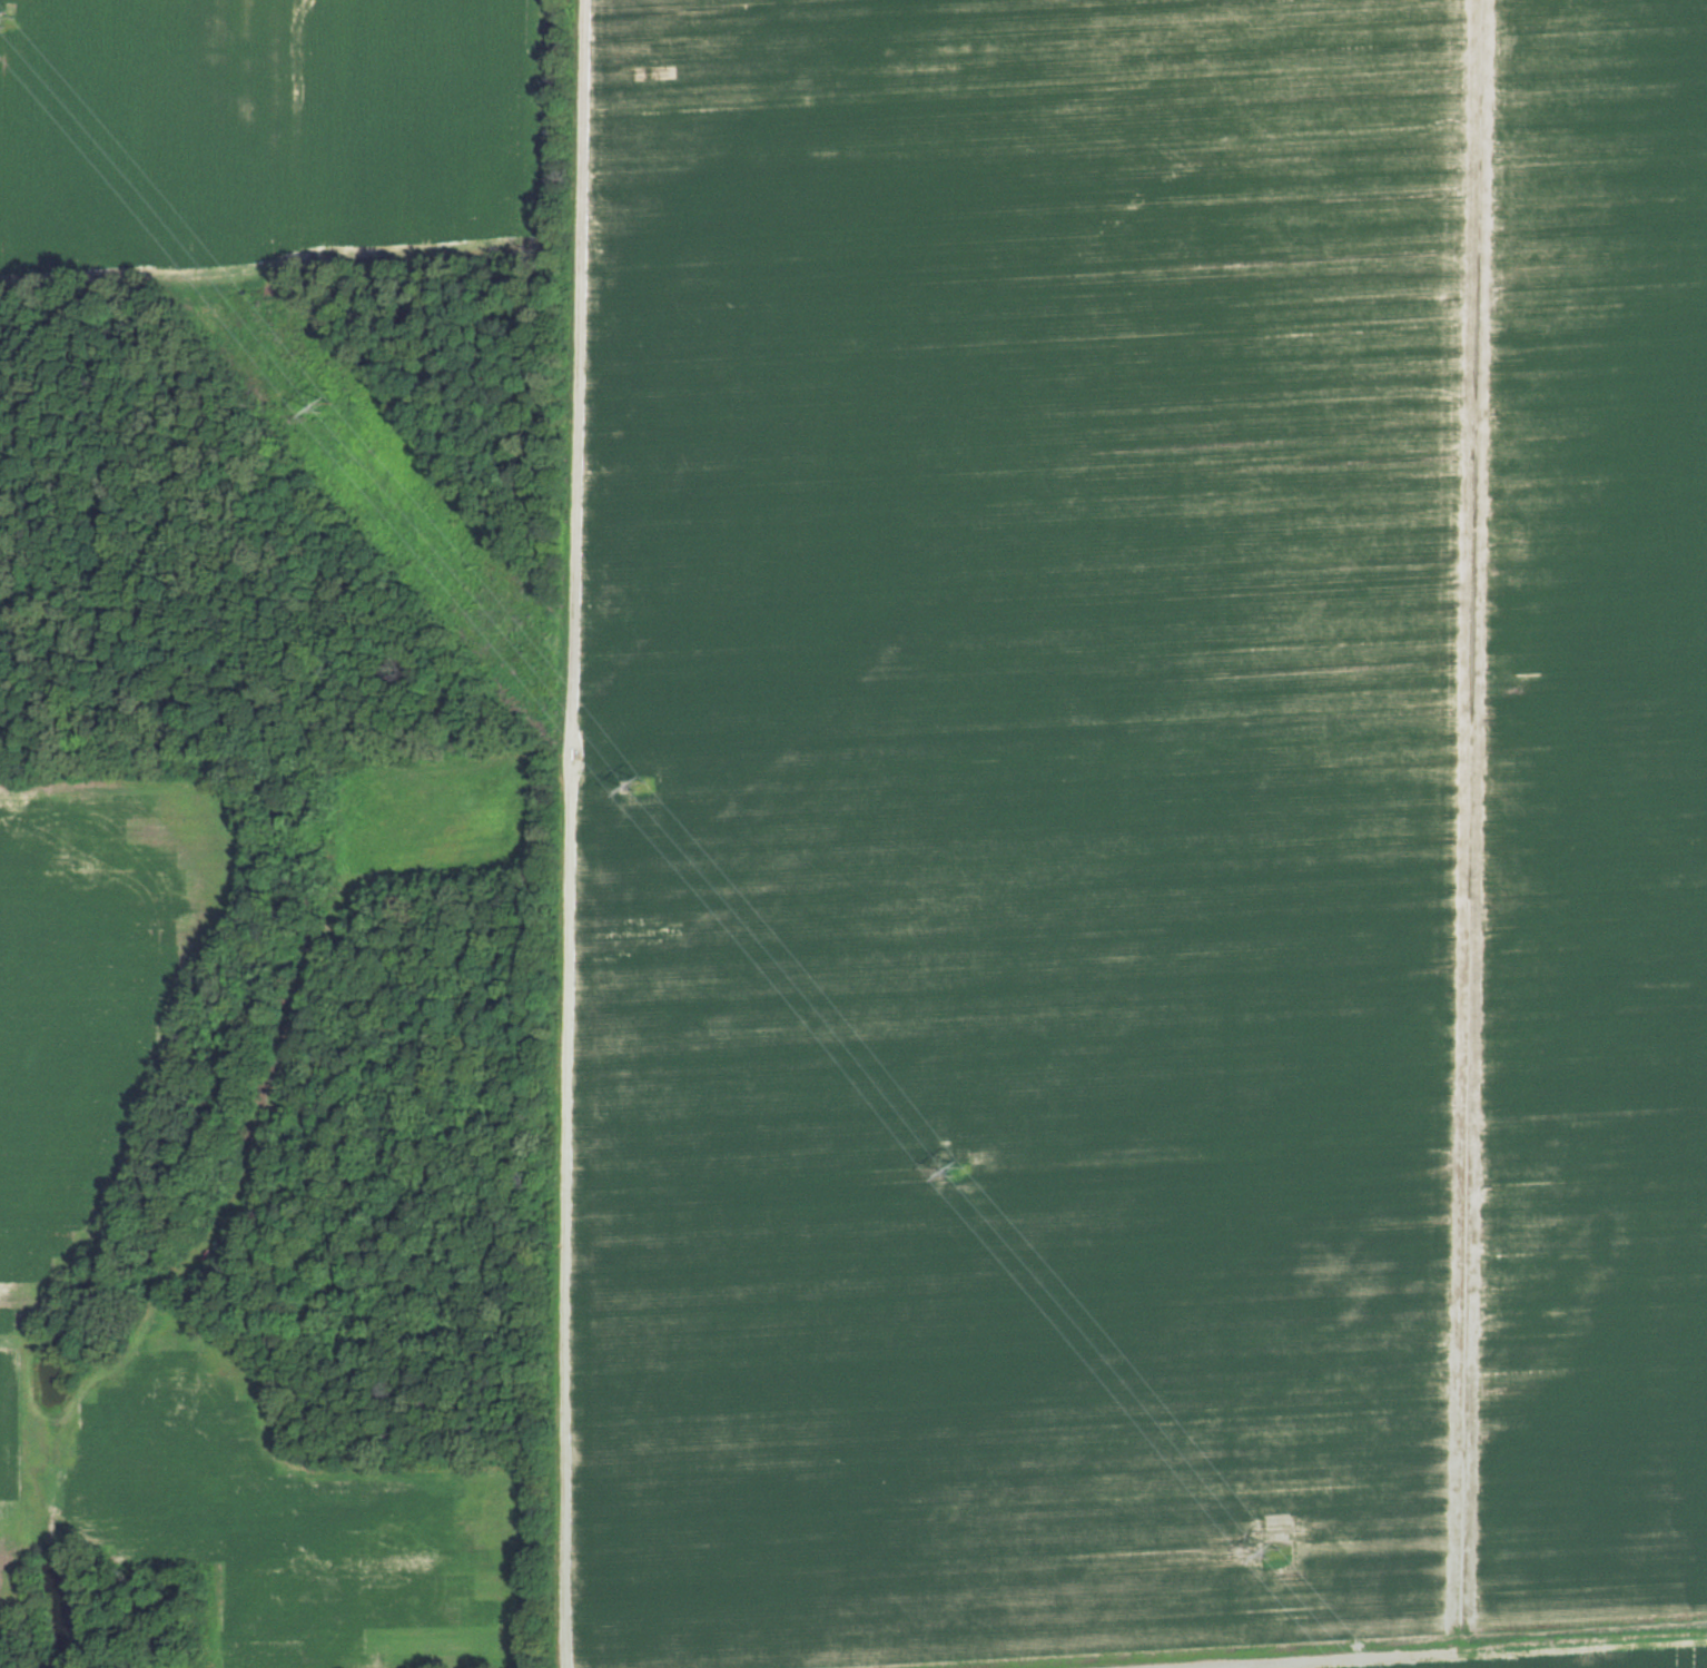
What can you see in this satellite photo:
power tower: (9, 22)
power tower: (324, 407)
power tower: (641, 786)
power tower: (959, 1172)
power tower: (1274, 1551)

